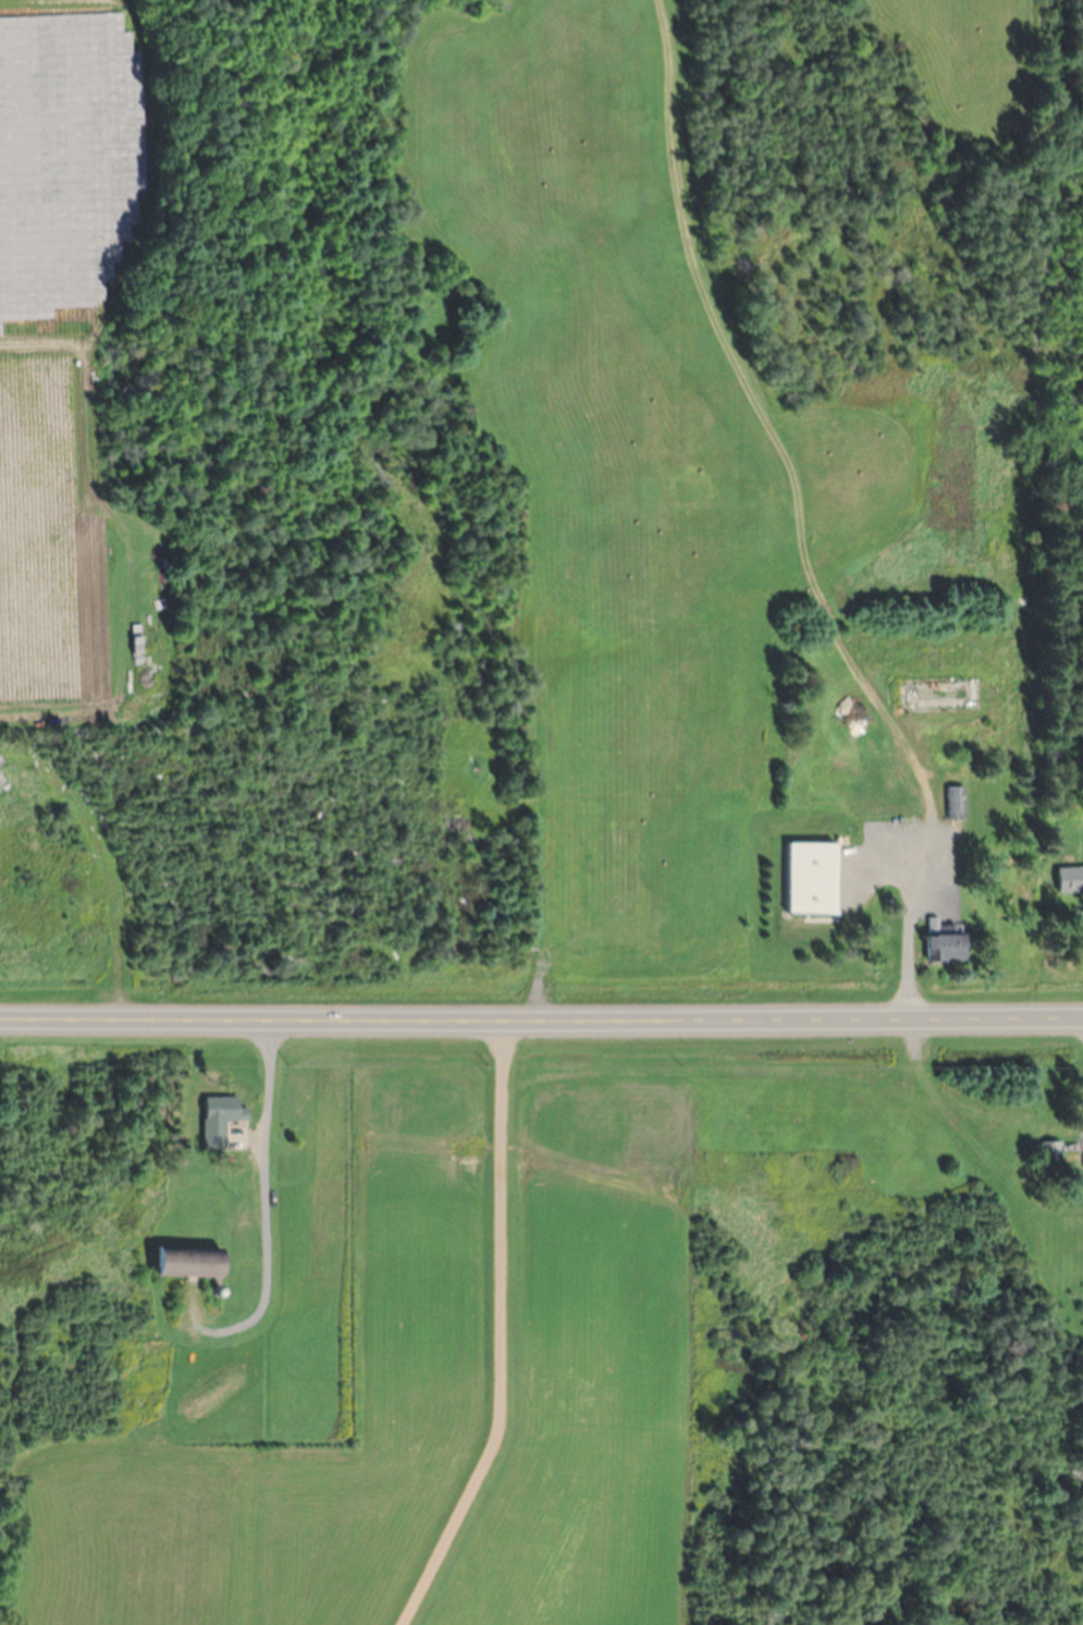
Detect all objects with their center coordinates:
building: (939, 697)
building: (951, 804)
building: (876, 807)
building: (801, 879)
building: (1067, 880)
building: (937, 949)
road: (541, 1017)
building: (222, 1117)
building: (1046, 1153)
building: (194, 1262)

